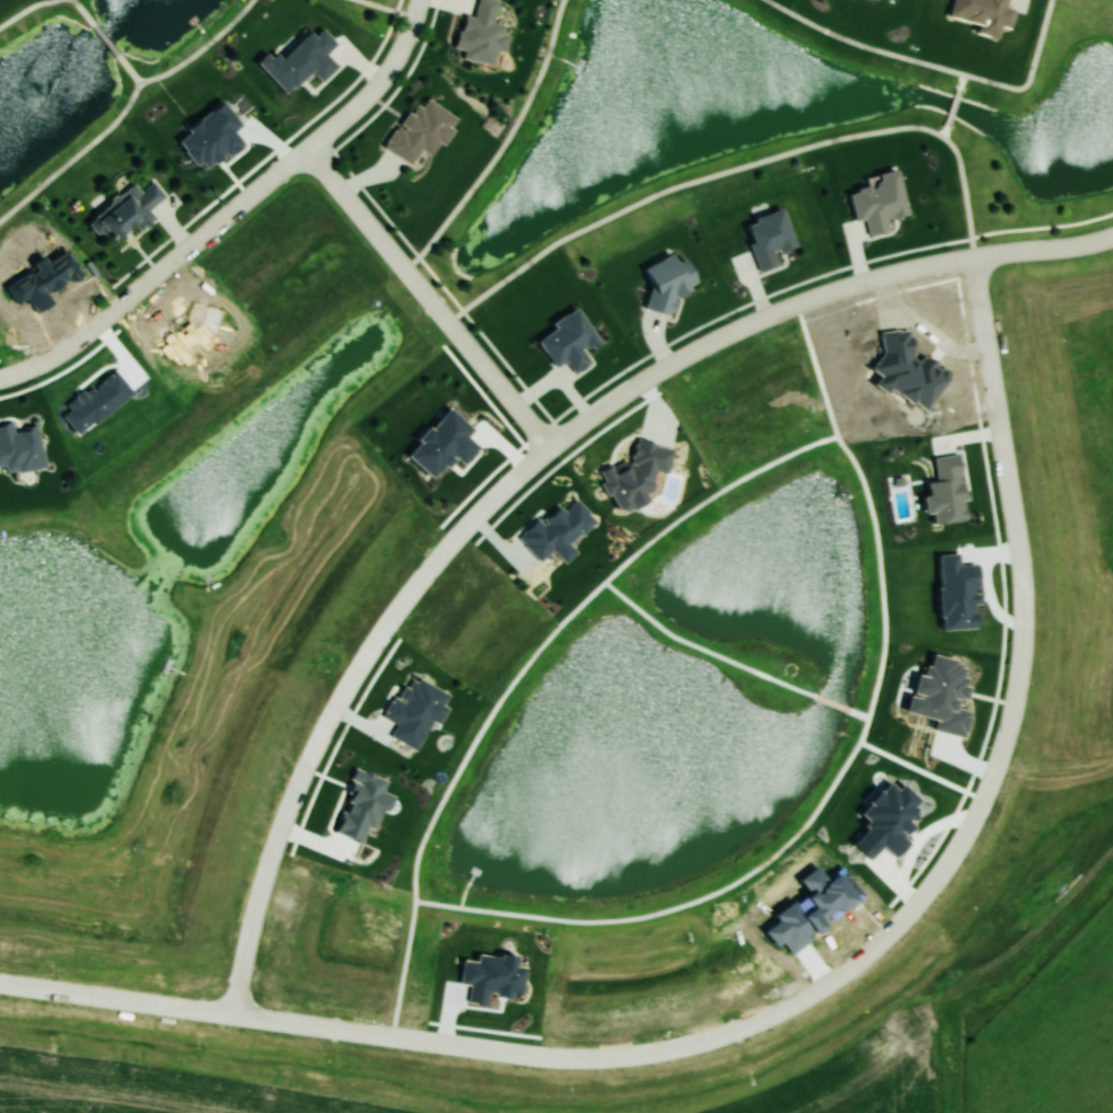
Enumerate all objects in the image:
road: (387, 9)
road: (25, 10)
road: (83, 11)
building: (985, 14)
road: (105, 38)
road: (202, 48)
road: (937, 66)
road: (129, 69)
road: (960, 81)
road: (393, 92)
road: (951, 107)
building: (421, 130)
road: (943, 130)
road: (504, 146)
road: (76, 157)
road: (741, 168)
road: (369, 195)
building: (128, 211)
road: (232, 211)
building: (770, 239)
road: (808, 279)
road: (440, 282)
building: (667, 283)
road: (428, 298)
road: (513, 372)
road: (527, 466)
road: (1013, 530)
road: (704, 649)
road: (521, 670)
road: (834, 703)
road: (861, 714)
road: (844, 767)
road: (540, 1060)

